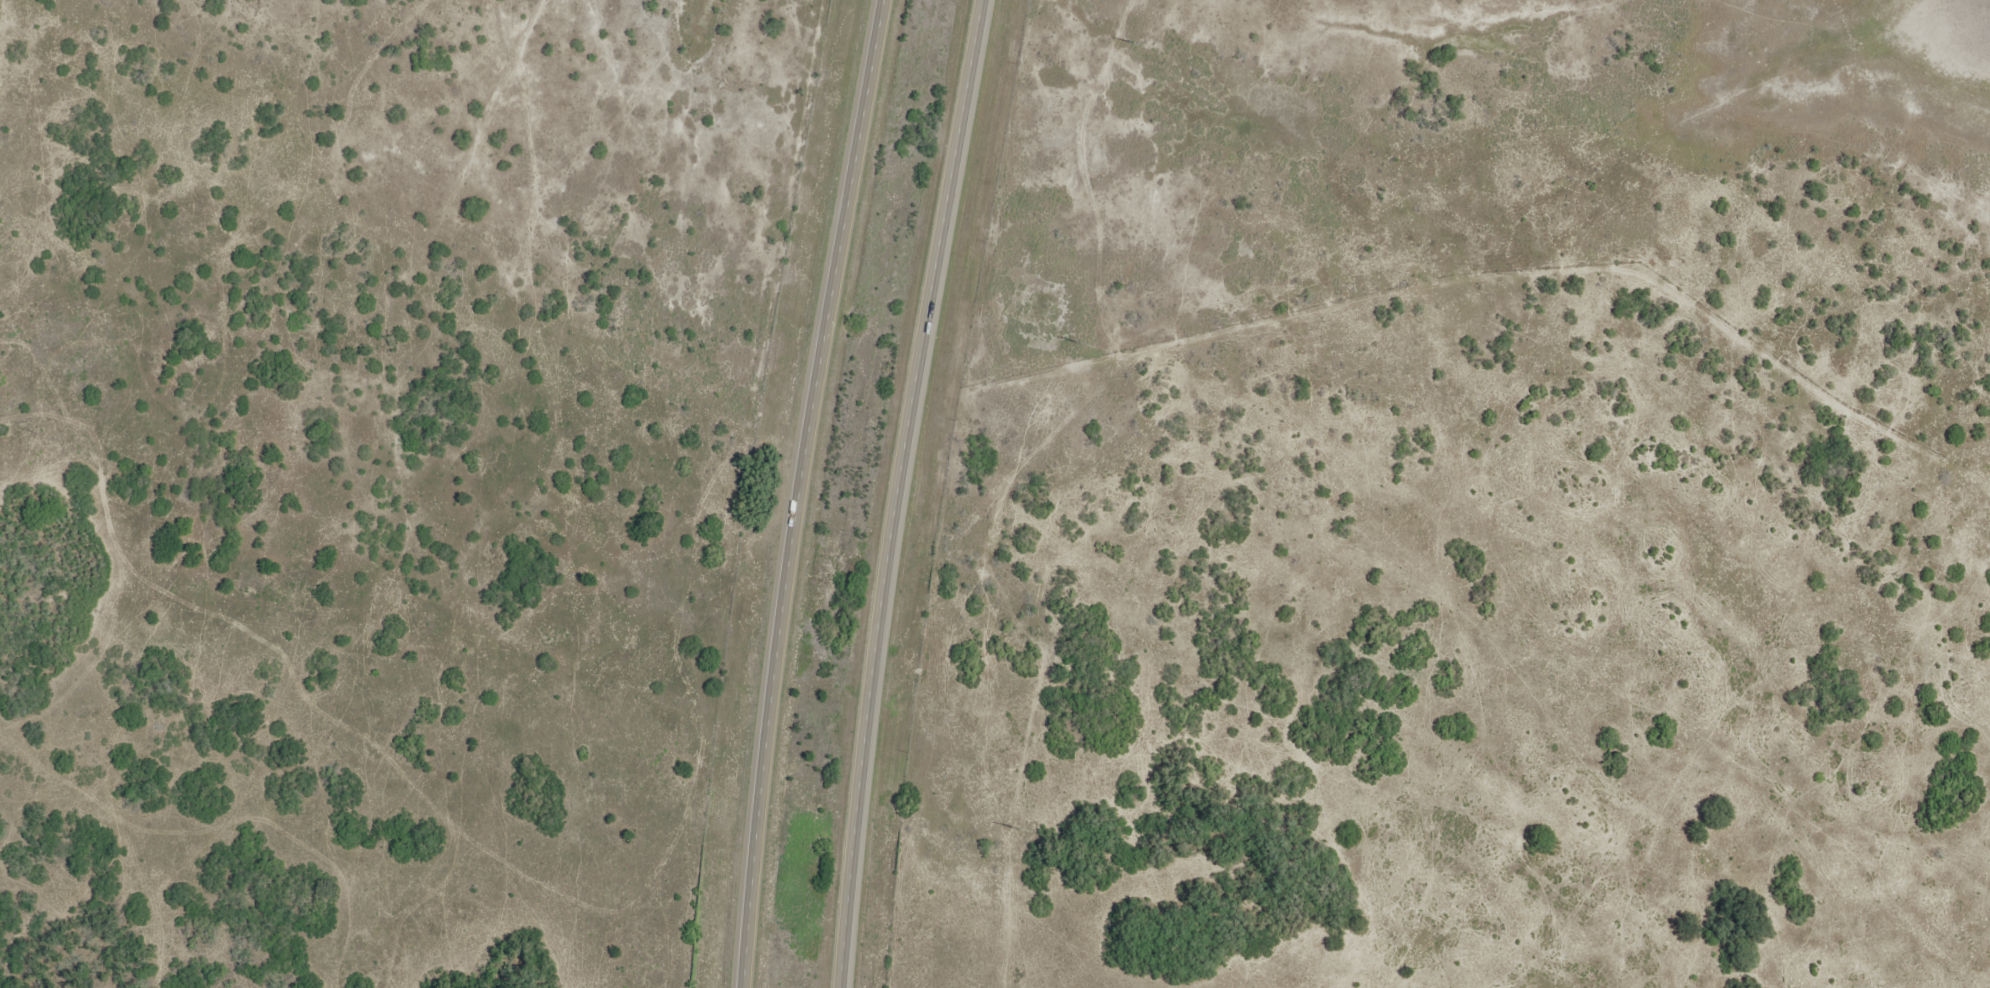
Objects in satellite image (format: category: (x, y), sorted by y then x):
power tower: (1136, 43)
power tower: (1084, 343)
road: (808, 492)
road: (903, 492)
power tower: (1022, 829)

